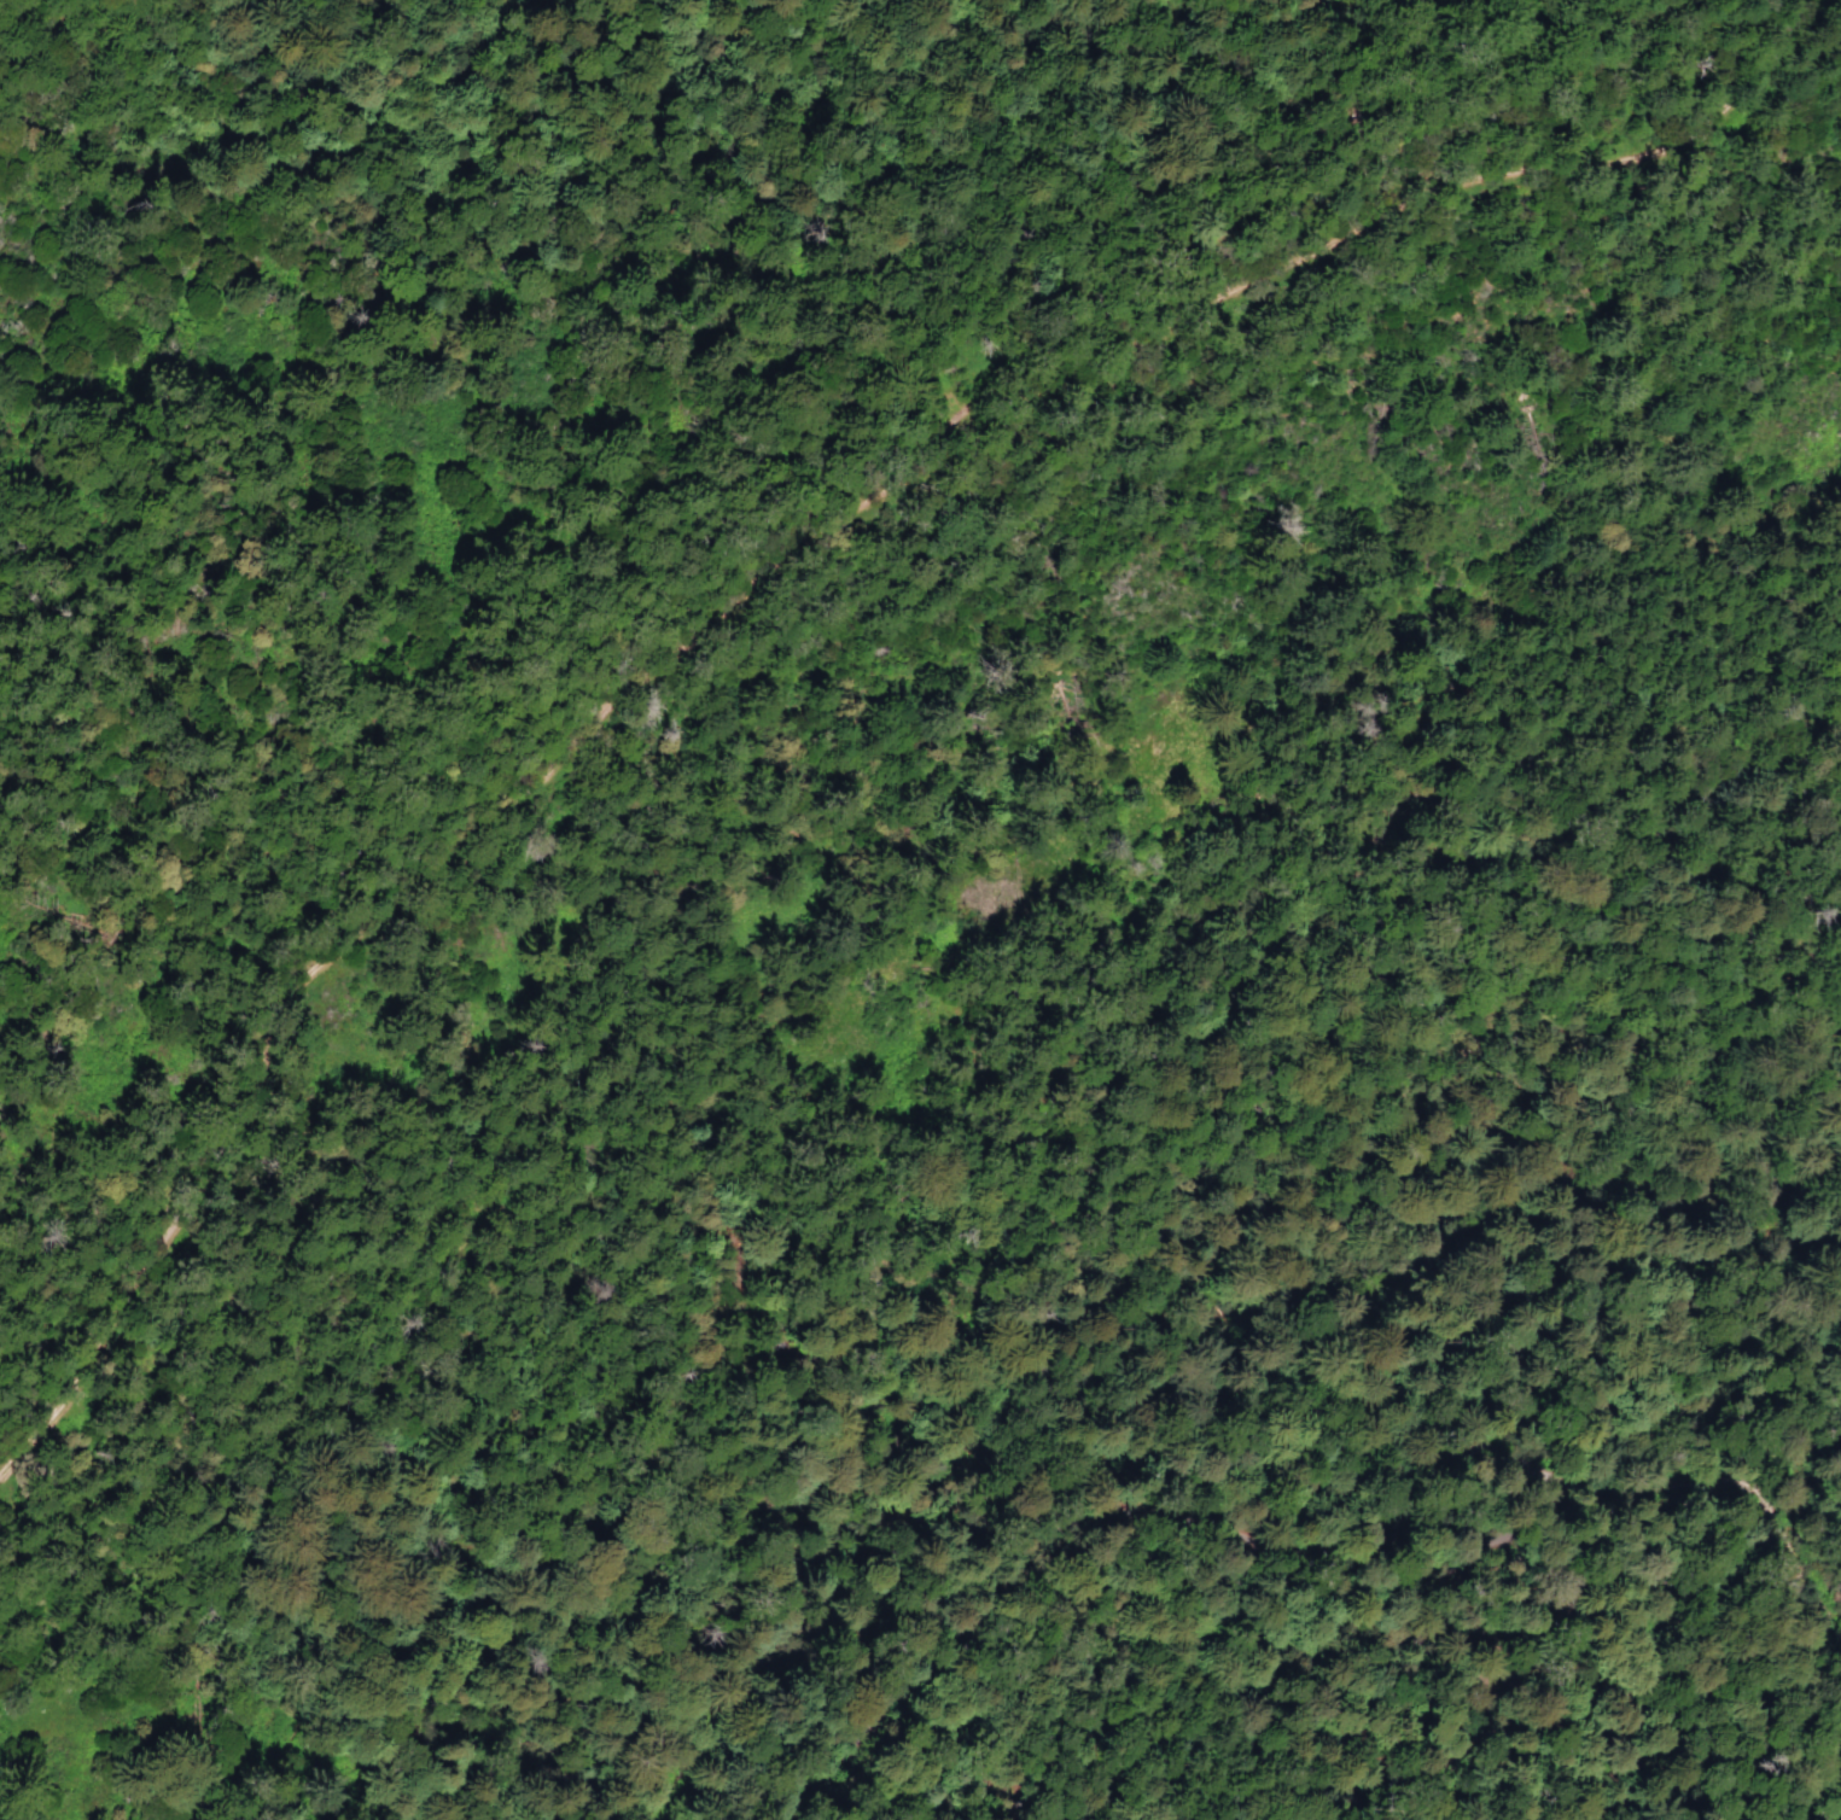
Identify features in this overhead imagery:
road: (774, 599)
road: (866, 1115)
road: (1233, 1309)
road: (1548, 1469)
road: (1769, 1510)
road: (1062, 1547)
road: (1234, 1582)
road: (1350, 1589)
road: (1421, 1639)
road: (748, 1721)
road: (1114, 1733)
road: (1490, 1749)
road: (736, 1780)

